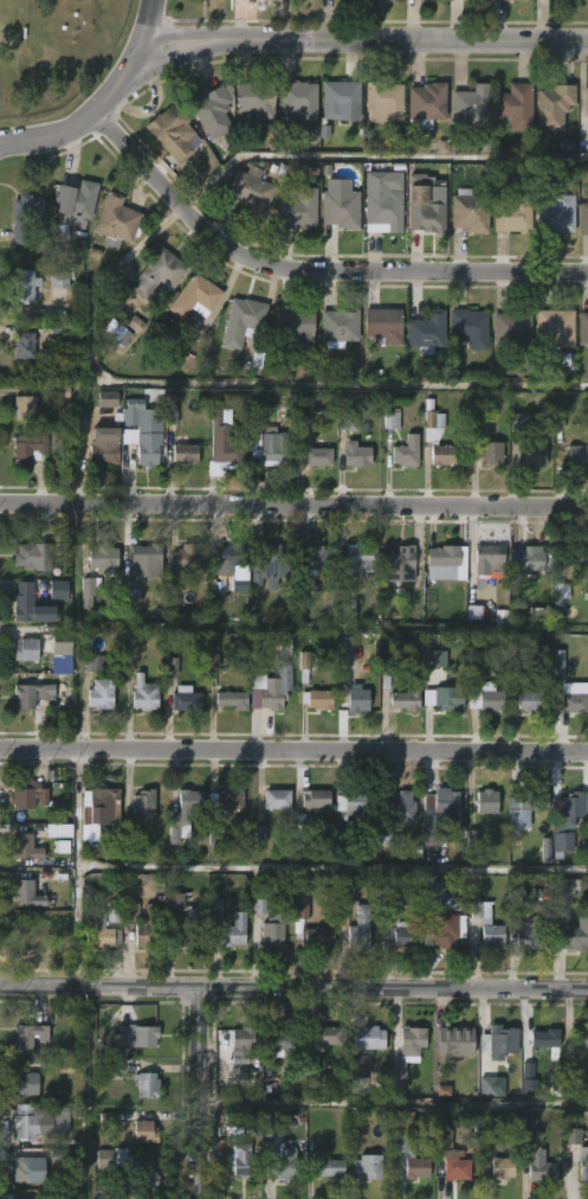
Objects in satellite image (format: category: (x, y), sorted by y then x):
building: (502, 0)
building: (568, 0)
road: (366, 40)
building: (253, 97)
road: (102, 98)
building: (338, 98)
building: (297, 100)
building: (381, 100)
building: (584, 101)
building: (424, 104)
building: (469, 107)
building: (515, 107)
building: (551, 108)
building: (212, 111)
building: (174, 133)
building: (314, 133)
road: (375, 155)
building: (248, 192)
building: (381, 200)
building: (338, 206)
building: (422, 206)
building: (71, 207)
building: (295, 209)
building: (469, 211)
building: (554, 212)
building: (25, 214)
building: (512, 214)
building: (582, 219)
building: (115, 222)
road: (309, 268)
building: (161, 272)
building: (59, 280)
building: (26, 286)
building: (194, 297)
building: (240, 321)
building: (381, 322)
building: (135, 325)
building: (293, 326)
building: (336, 326)
building: (470, 326)
building: (510, 326)
building: (554, 326)
building: (582, 326)
building: (426, 332)
building: (116, 333)
building: (26, 346)
building: (106, 398)
building: (28, 408)
building: (348, 418)
building: (557, 419)
building: (390, 421)
building: (515, 423)
building: (141, 429)
building: (435, 440)
building: (267, 442)
building: (30, 445)
building: (221, 447)
building: (183, 451)
building: (406, 451)
building: (104, 453)
building: (491, 453)
building: (530, 455)
building: (575, 455)
building: (356, 456)
building: (317, 457)
road: (293, 505)
building: (230, 554)
building: (31, 556)
building: (575, 557)
building: (103, 558)
building: (182, 558)
building: (528, 558)
building: (315, 559)
building: (362, 559)
building: (143, 560)
building: (444, 562)
building: (484, 562)
building: (398, 563)
building: (271, 564)
building: (240, 584)
building: (88, 586)
building: (58, 590)
building: (131, 590)
building: (561, 592)
building: (302, 595)
building: (31, 607)
building: (26, 650)
building: (58, 652)
building: (435, 659)
building: (305, 660)
building: (95, 663)
building: (386, 666)
building: (557, 671)
building: (266, 684)
building: (30, 695)
building: (101, 695)
building: (571, 697)
building: (147, 698)
building: (405, 698)
building: (439, 698)
building: (485, 698)
building: (230, 699)
building: (186, 700)
building: (318, 700)
building: (356, 700)
building: (529, 701)
road: (293, 751)
building: (25, 794)
building: (278, 797)
building: (231, 799)
building: (317, 799)
building: (485, 801)
building: (146, 803)
building: (584, 803)
building: (402, 806)
road: (77, 807)
building: (97, 809)
building: (522, 810)
building: (349, 812)
building: (183, 813)
building: (563, 819)
building: (426, 820)
building: (22, 841)
road: (332, 867)
building: (27, 892)
building: (562, 893)
building: (302, 905)
building: (259, 906)
building: (215, 908)
building: (342, 909)
building: (112, 913)
building: (195, 917)
building: (437, 918)
road: (77, 925)
building: (146, 928)
building: (98, 930)
building: (358, 930)
building: (228, 931)
building: (272, 931)
building: (32, 932)
building: (493, 934)
building: (399, 935)
building: (529, 935)
building: (316, 936)
building: (570, 937)
road: (293, 987)
building: (363, 1034)
building: (140, 1035)
building: (325, 1035)
building: (30, 1037)
building: (279, 1037)
building: (411, 1038)
building: (452, 1038)
building: (492, 1038)
building: (542, 1038)
building: (581, 1038)
building: (244, 1044)
building: (312, 1065)
building: (358, 1066)
building: (399, 1069)
building: (108, 1070)
building: (574, 1076)
building: (26, 1083)
building: (146, 1084)
building: (491, 1086)
building: (529, 1086)
road: (206, 1094)
road: (396, 1102)
building: (28, 1123)
building: (530, 1129)
building: (144, 1131)
building: (573, 1136)
building: (442, 1139)
building: (114, 1156)
building: (246, 1160)
building: (583, 1163)
building: (283, 1165)
building: (366, 1165)
building: (541, 1165)
building: (329, 1166)
building: (406, 1167)
building: (503, 1167)
building: (454, 1168)
building: (24, 1171)
building: (147, 1173)
building: (56, 1195)
building: (122, 1195)

